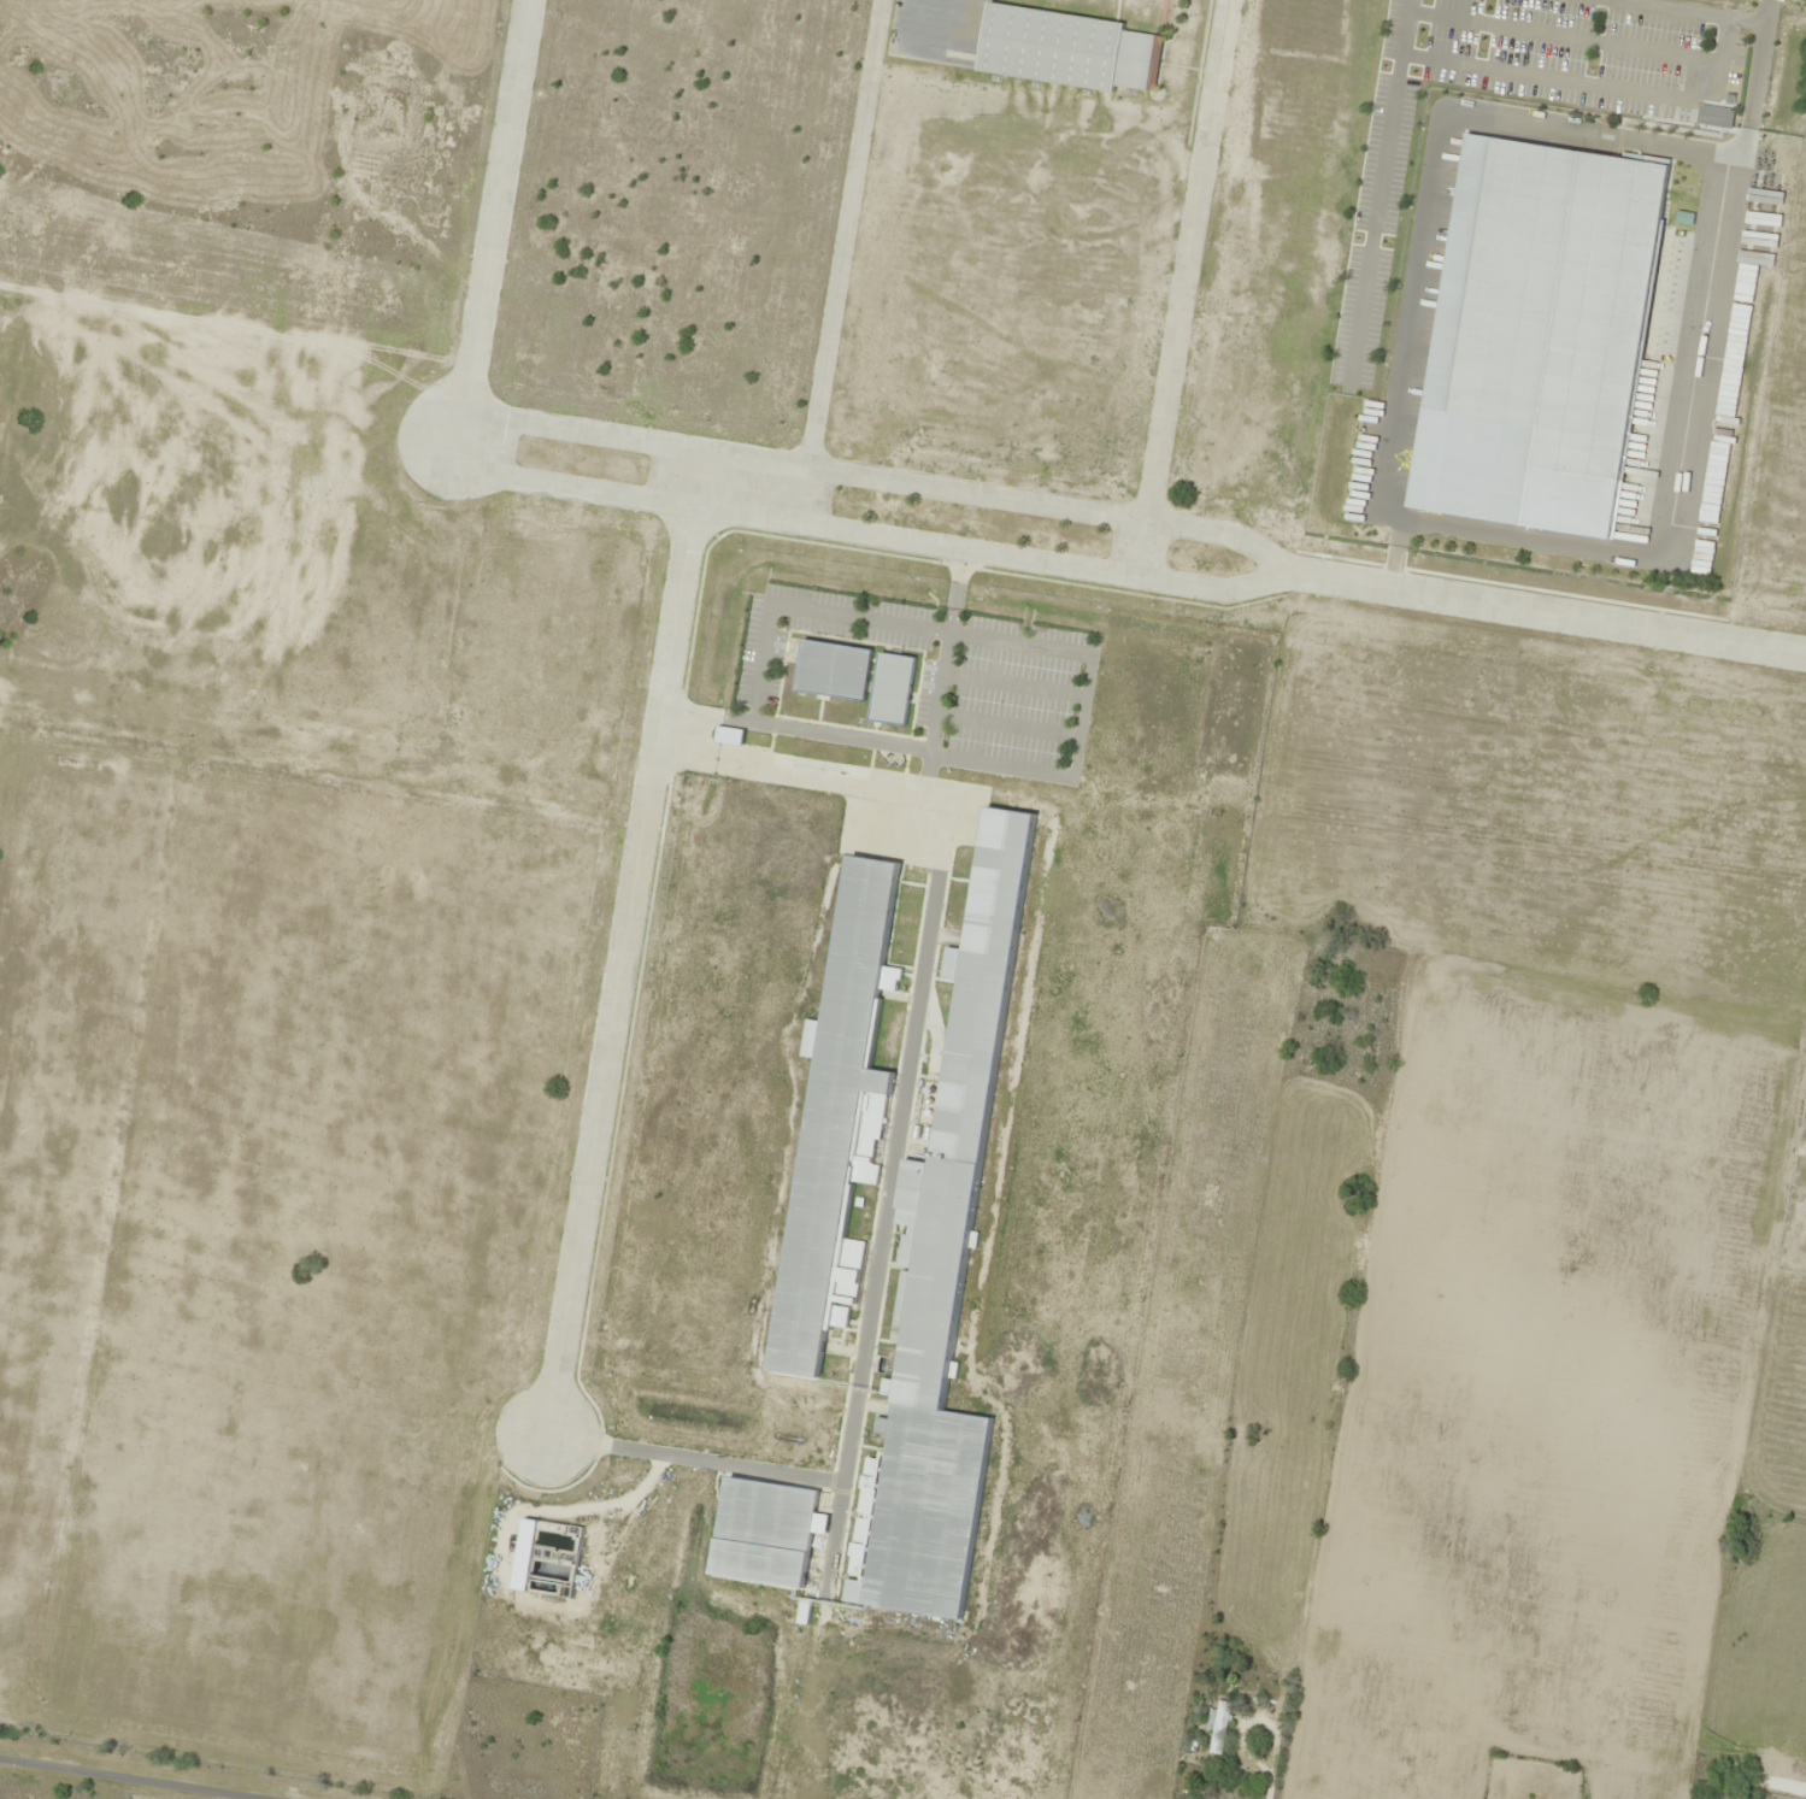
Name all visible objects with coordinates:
road: (1706, 8)
road: (1586, 33)
building: (1066, 48)
road: (1571, 75)
road: (1754, 80)
road: (1379, 189)
road: (496, 217)
road: (845, 261)
road: (1187, 288)
building: (1535, 335)
road: (466, 435)
road: (1376, 508)
road: (1545, 613)
road: (624, 941)
building: (833, 1107)
building: (946, 1282)
building: (759, 1525)
building: (1217, 1728)
road: (146, 1775)

